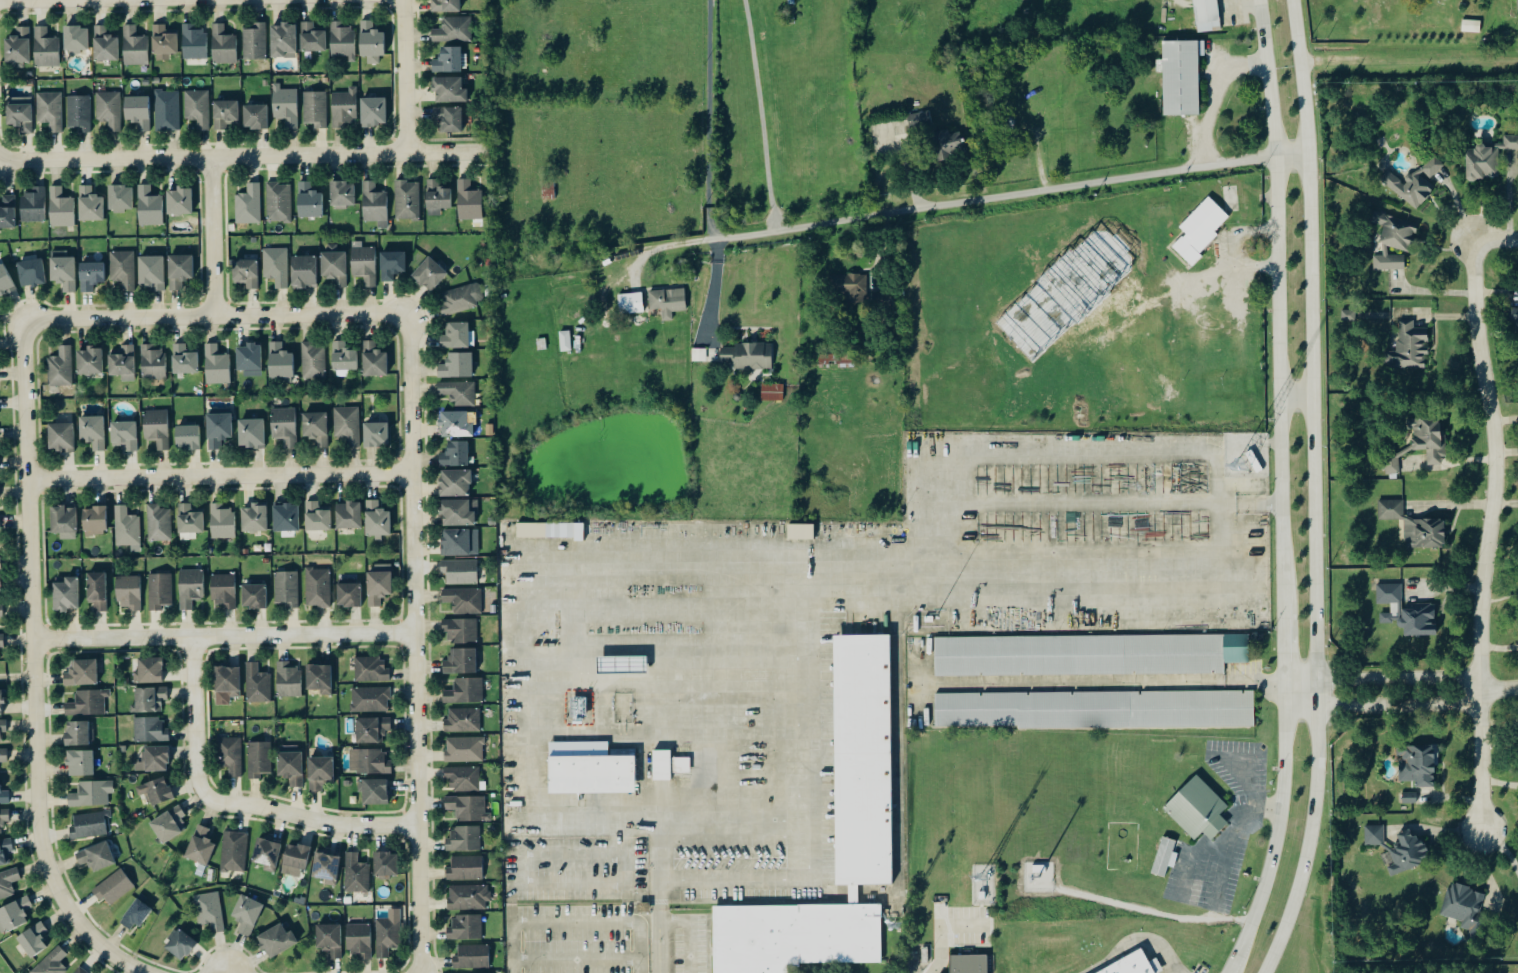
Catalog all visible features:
building: (1517, 1)
building: (445, 6)
building: (1207, 11)
building: (1184, 24)
building: (1471, 27)
building: (454, 30)
building: (312, 38)
building: (75, 39)
building: (343, 40)
building: (255, 41)
building: (284, 41)
building: (194, 42)
building: (164, 43)
building: (371, 43)
building: (105, 45)
building: (223, 45)
building: (18, 47)
building: (135, 47)
building: (45, 48)
building: (448, 61)
road: (405, 76)
building: (1180, 78)
building: (449, 90)
road: (1210, 94)
building: (286, 106)
building: (198, 108)
building: (345, 108)
building: (109, 109)
building: (316, 109)
building: (50, 110)
building: (167, 110)
building: (138, 112)
building: (374, 112)
building: (20, 113)
building: (79, 114)
building: (226, 114)
road: (762, 115)
building: (255, 117)
building: (449, 119)
road: (712, 120)
building: (947, 144)
road: (242, 156)
building: (1488, 157)
building: (1416, 181)
building: (342, 194)
building: (437, 197)
building: (120, 198)
building: (407, 200)
building: (469, 201)
building: (179, 202)
building: (279, 202)
building: (309, 202)
road: (965, 202)
building: (33, 204)
building: (90, 205)
building: (249, 205)
building: (375, 205)
building: (149, 207)
building: (61, 209)
building: (8, 212)
building: (1201, 229)
road: (213, 236)
road: (1495, 237)
building: (1395, 240)
building: (364, 264)
building: (392, 264)
building: (276, 265)
building: (334, 266)
building: (123, 268)
building: (180, 269)
building: (63, 271)
building: (151, 271)
building: (304, 271)
building: (31, 272)
building: (246, 272)
building: (429, 272)
building: (91, 275)
building: (5, 280)
building: (852, 286)
road: (714, 289)
building: (462, 298)
building: (668, 301)
road: (1277, 301)
building: (630, 303)
building: (1348, 314)
road: (216, 315)
building: (1514, 316)
building: (457, 335)
building: (565, 341)
building: (1410, 346)
building: (699, 355)
building: (748, 355)
building: (250, 358)
building: (344, 358)
building: (90, 359)
building: (184, 359)
building: (313, 359)
building: (374, 359)
building: (153, 361)
building: (280, 362)
building: (123, 363)
building: (216, 364)
building: (457, 364)
building: (61, 367)
building: (773, 391)
road: (1295, 391)
building: (461, 393)
building: (458, 422)
building: (348, 424)
building: (285, 425)
building: (157, 427)
building: (316, 427)
building: (218, 428)
building: (93, 430)
building: (251, 432)
building: (124, 434)
building: (376, 434)
building: (188, 435)
building: (60, 436)
building: (1429, 437)
road: (1248, 445)
road: (1215, 450)
building: (455, 453)
building: (1253, 461)
building: (1392, 464)
road: (220, 476)
building: (455, 482)
road: (1313, 490)
road: (1248, 503)
building: (1391, 509)
building: (459, 512)
building: (348, 514)
building: (286, 516)
building: (317, 516)
building: (254, 517)
building: (377, 519)
building: (94, 520)
building: (64, 521)
building: (189, 521)
building: (222, 521)
building: (0, 522)
building: (159, 522)
building: (127, 528)
building: (545, 529)
building: (801, 530)
building: (1425, 532)
road: (1487, 534)
building: (460, 541)
building: (0, 562)
building: (460, 571)
building: (379, 584)
building: (191, 587)
building: (318, 587)
building: (0, 588)
building: (286, 588)
building: (97, 590)
building: (160, 590)
building: (129, 591)
building: (223, 591)
building: (65, 594)
building: (349, 594)
building: (254, 595)
building: (464, 600)
road: (527, 608)
building: (1, 610)
building: (1407, 611)
building: (461, 629)
road: (223, 635)
building: (2, 641)
road: (415, 642)
road: (1282, 645)
building: (1078, 655)
building: (0, 658)
building: (461, 660)
building: (622, 664)
road: (33, 669)
building: (371, 669)
building: (150, 670)
building: (82, 672)
building: (319, 677)
building: (228, 679)
building: (288, 679)
road: (1100, 682)
building: (257, 683)
building: (465, 690)
road: (1399, 692)
building: (150, 698)
building: (371, 699)
building: (1, 702)
building: (88, 702)
building: (1093, 708)
road: (195, 718)
building: (463, 720)
building: (3, 727)
building: (151, 729)
building: (372, 729)
building: (79, 732)
building: (465, 749)
building: (4, 755)
building: (231, 755)
building: (259, 758)
building: (154, 759)
building: (863, 760)
building: (370, 761)
building: (80, 762)
building: (1418, 764)
building: (662, 765)
building: (291, 766)
building: (320, 772)
building: (593, 775)
road: (811, 776)
building: (463, 778)
building: (156, 790)
building: (374, 791)
building: (92, 793)
building: (5, 796)
building: (1410, 797)
building: (468, 807)
building: (1195, 807)
building: (4, 818)
road: (312, 819)
building: (169, 824)
building: (89, 825)
road: (1272, 833)
building: (464, 839)
road: (1230, 843)
building: (200, 845)
road: (1503, 848)
building: (1398, 849)
building: (5, 850)
building: (235, 851)
building: (267, 854)
building: (96, 856)
building: (1163, 857)
road: (572, 858)
building: (295, 859)
building: (386, 863)
building: (327, 867)
building: (466, 868)
building: (356, 874)
building: (8, 882)
building: (114, 887)
building: (469, 897)
building: (1464, 905)
building: (209, 910)
building: (14, 913)
building: (247, 914)
building: (135, 915)
building: (466, 927)
building: (388, 933)
building: (33, 939)
building: (330, 939)
building: (277, 940)
building: (359, 940)
building: (180, 944)
building: (472, 956)
building: (962, 961)
building: (52, 962)
building: (1136, 965)
road: (228, 968)
building: (79, 971)

